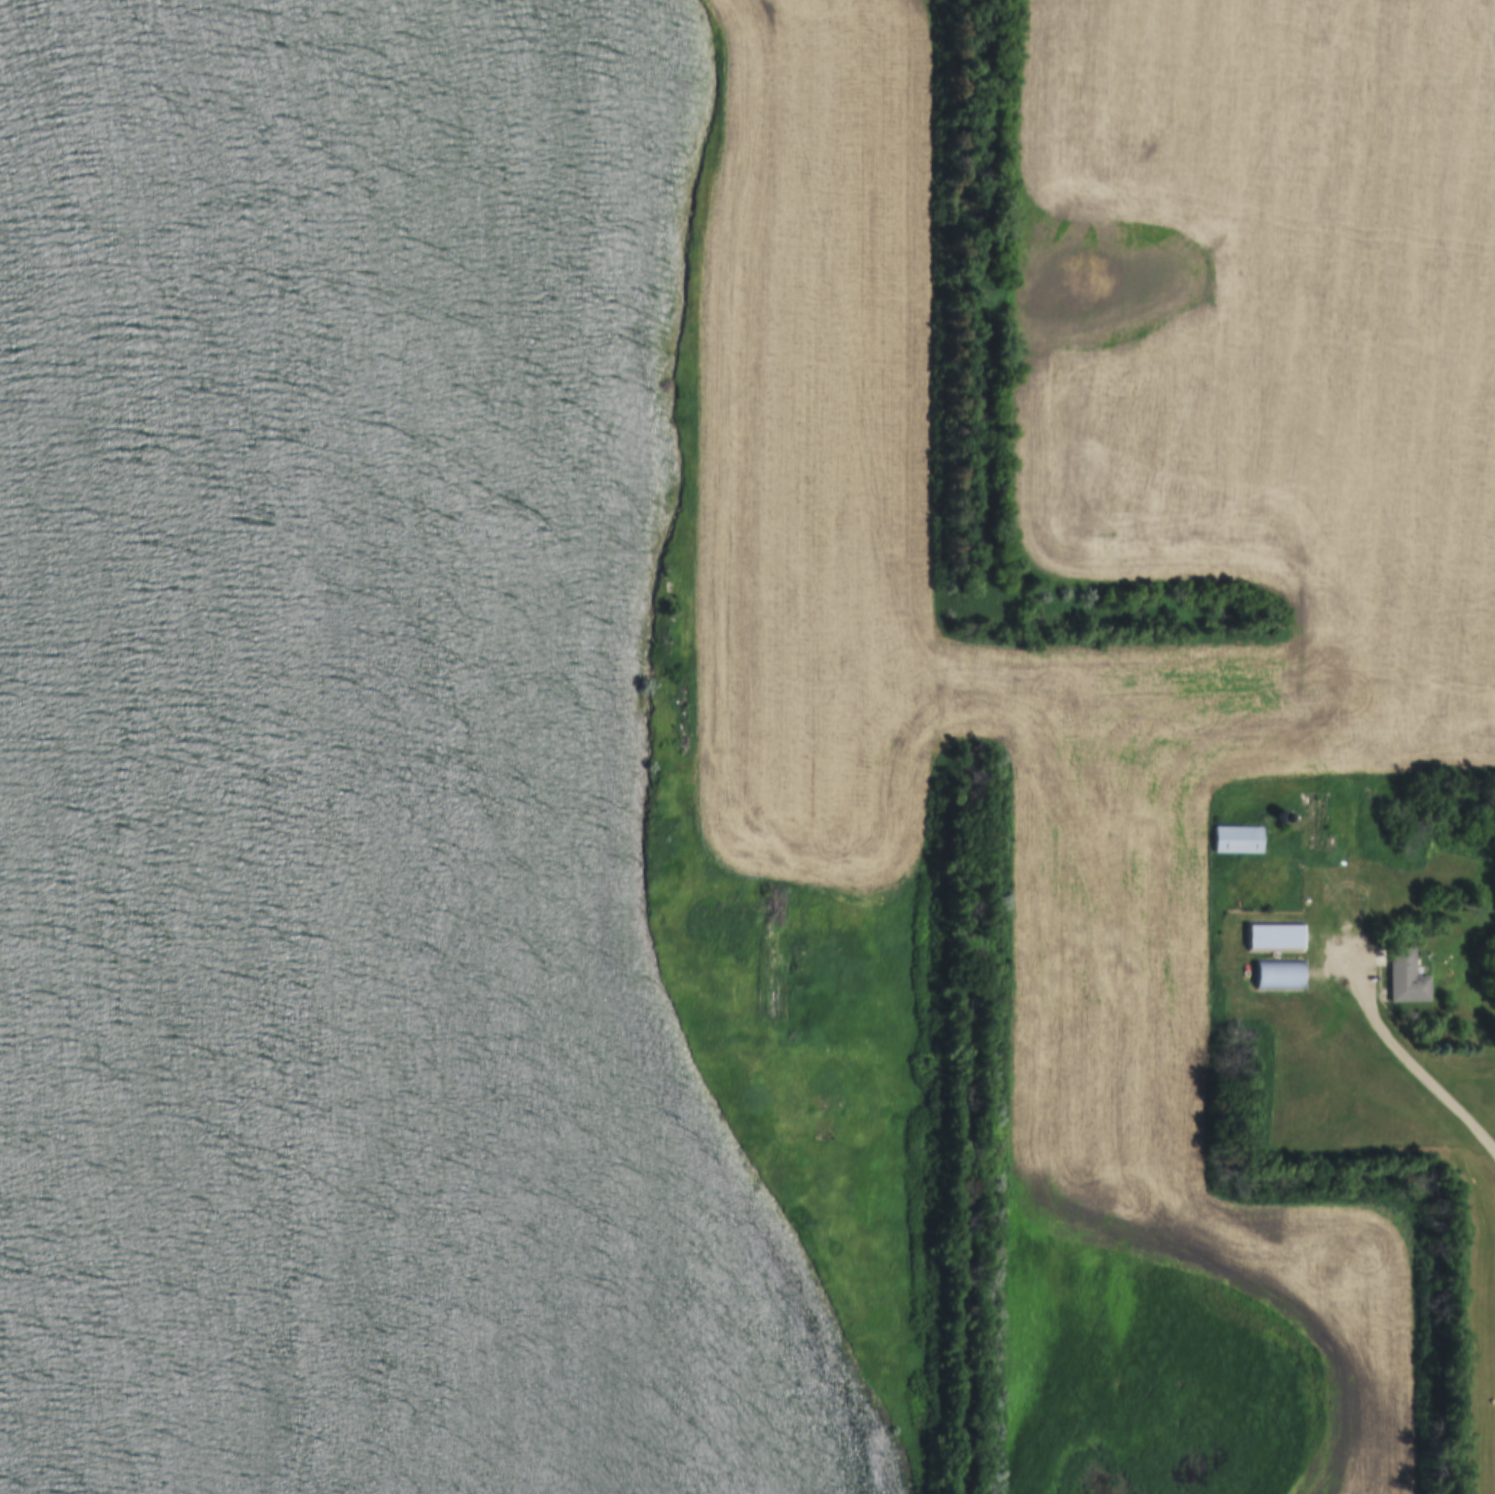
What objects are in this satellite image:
building: (1281, 818)
silo: (1281, 818)
building: (1236, 841)
building: (1273, 937)
road: (1218, 968)
building: (1277, 975)
building: (1404, 979)
road: (1395, 1043)

